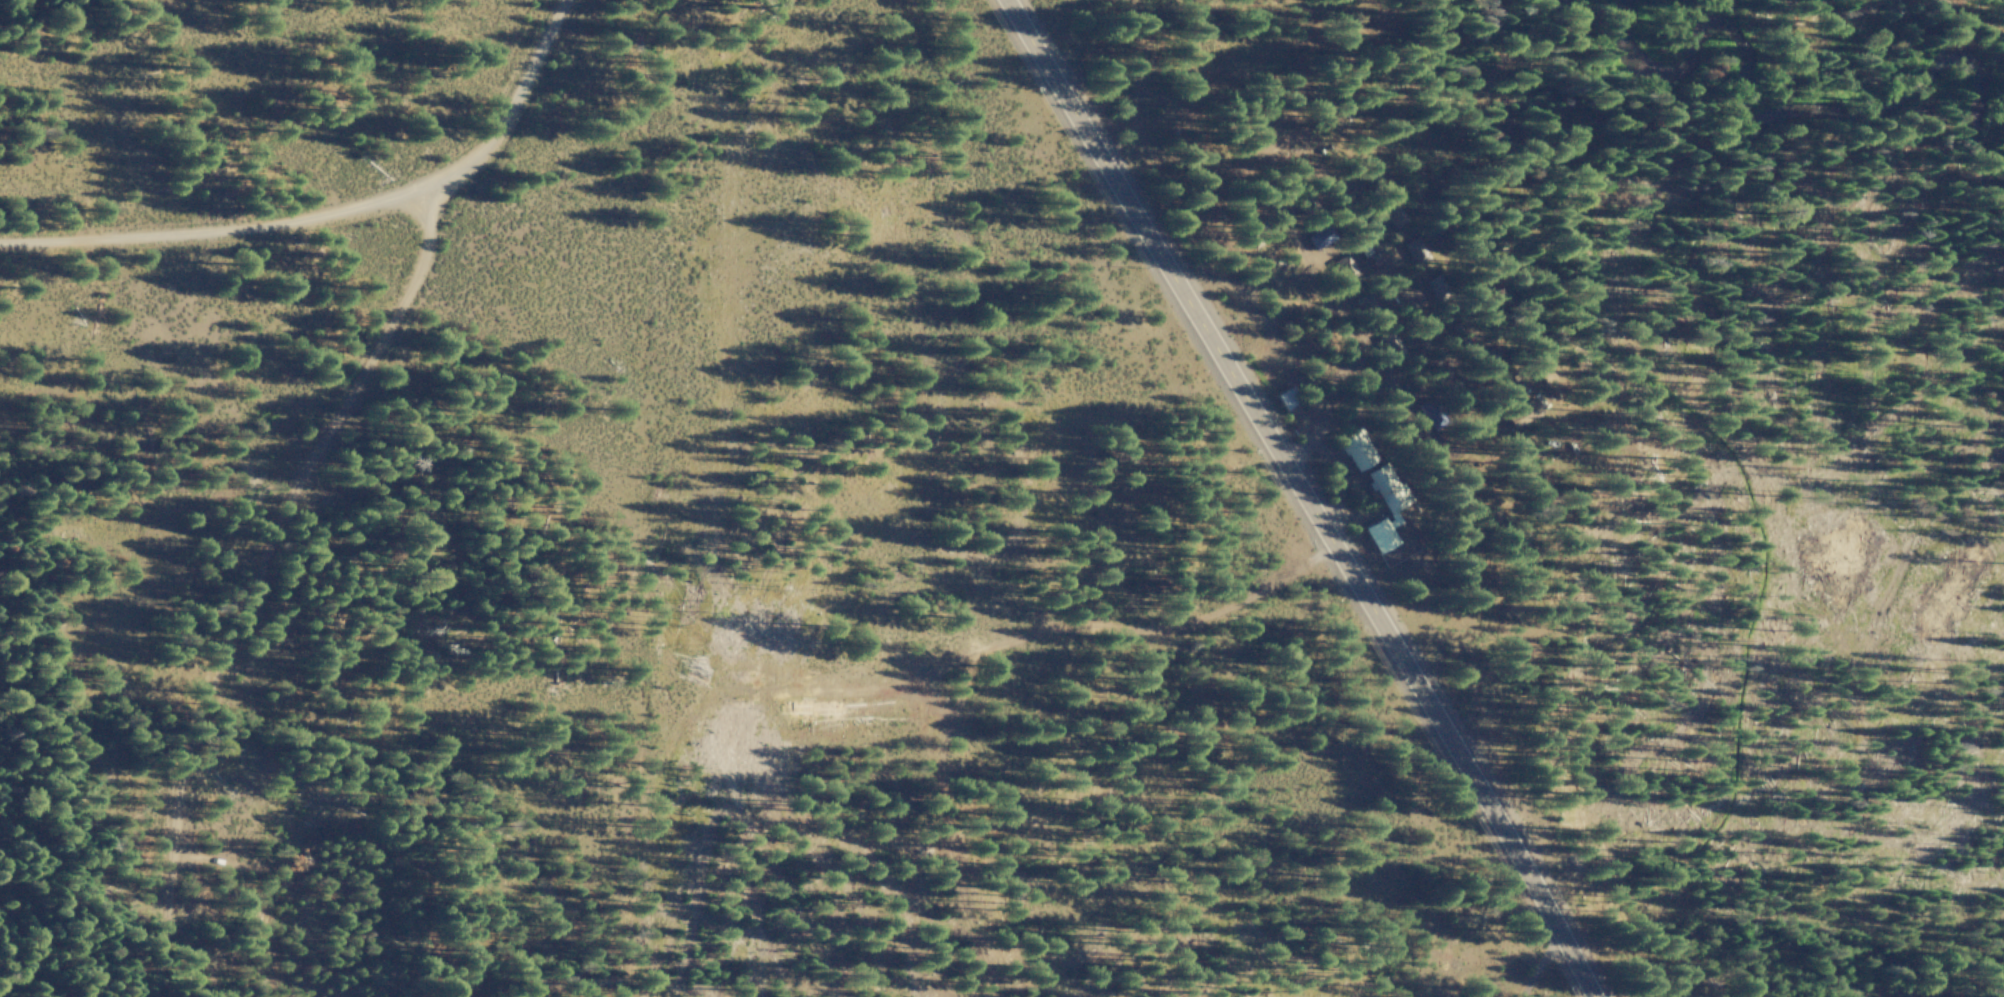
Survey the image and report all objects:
road: (215, 230)
building: (1285, 398)
building: (1356, 449)
road: (292, 467)
road: (1301, 495)
building: (1385, 507)

